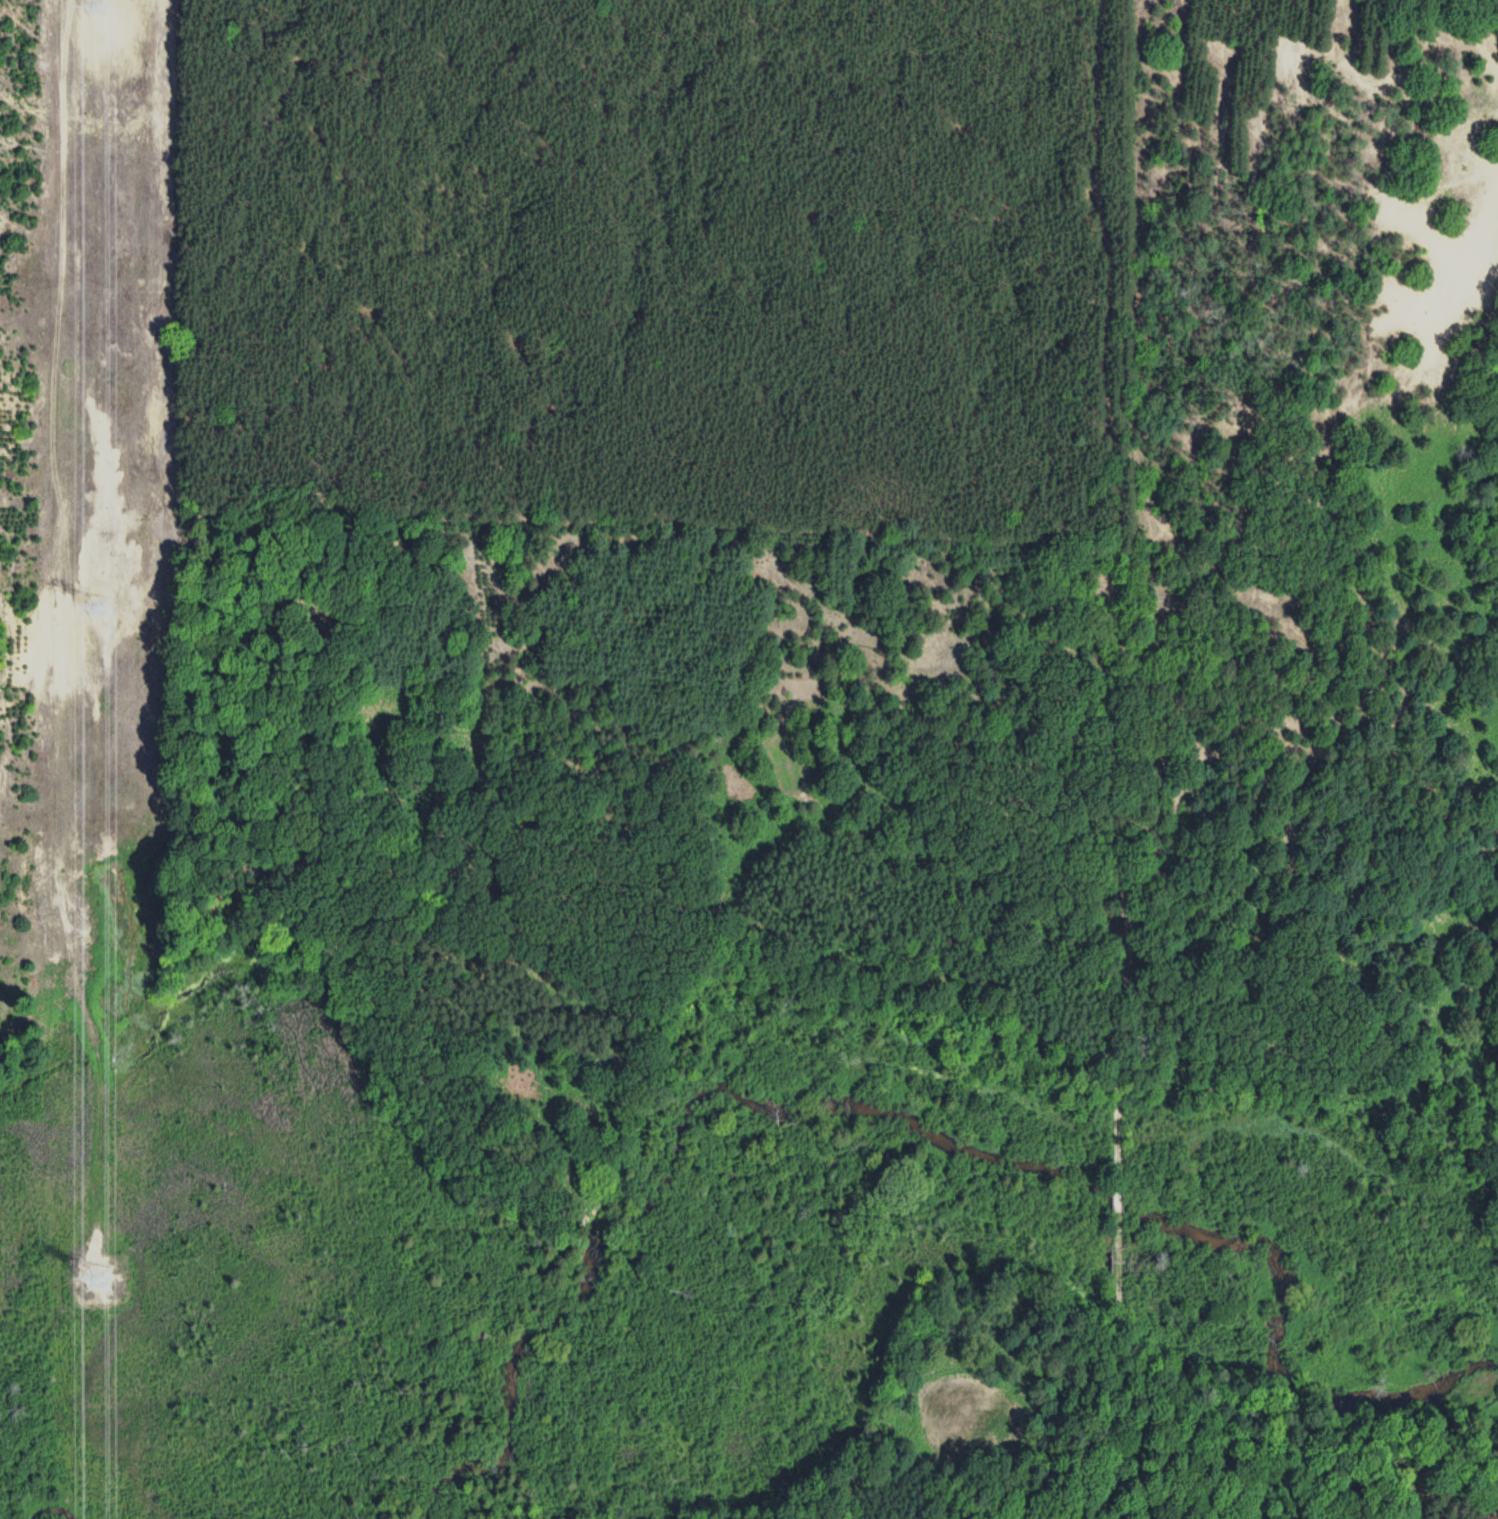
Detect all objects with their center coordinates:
power tower: (103, 2)
road: (1117, 583)
power tower: (100, 603)
river: (899, 1116)
road: (1120, 1209)
power tower: (104, 1268)
road: (1116, 1385)

